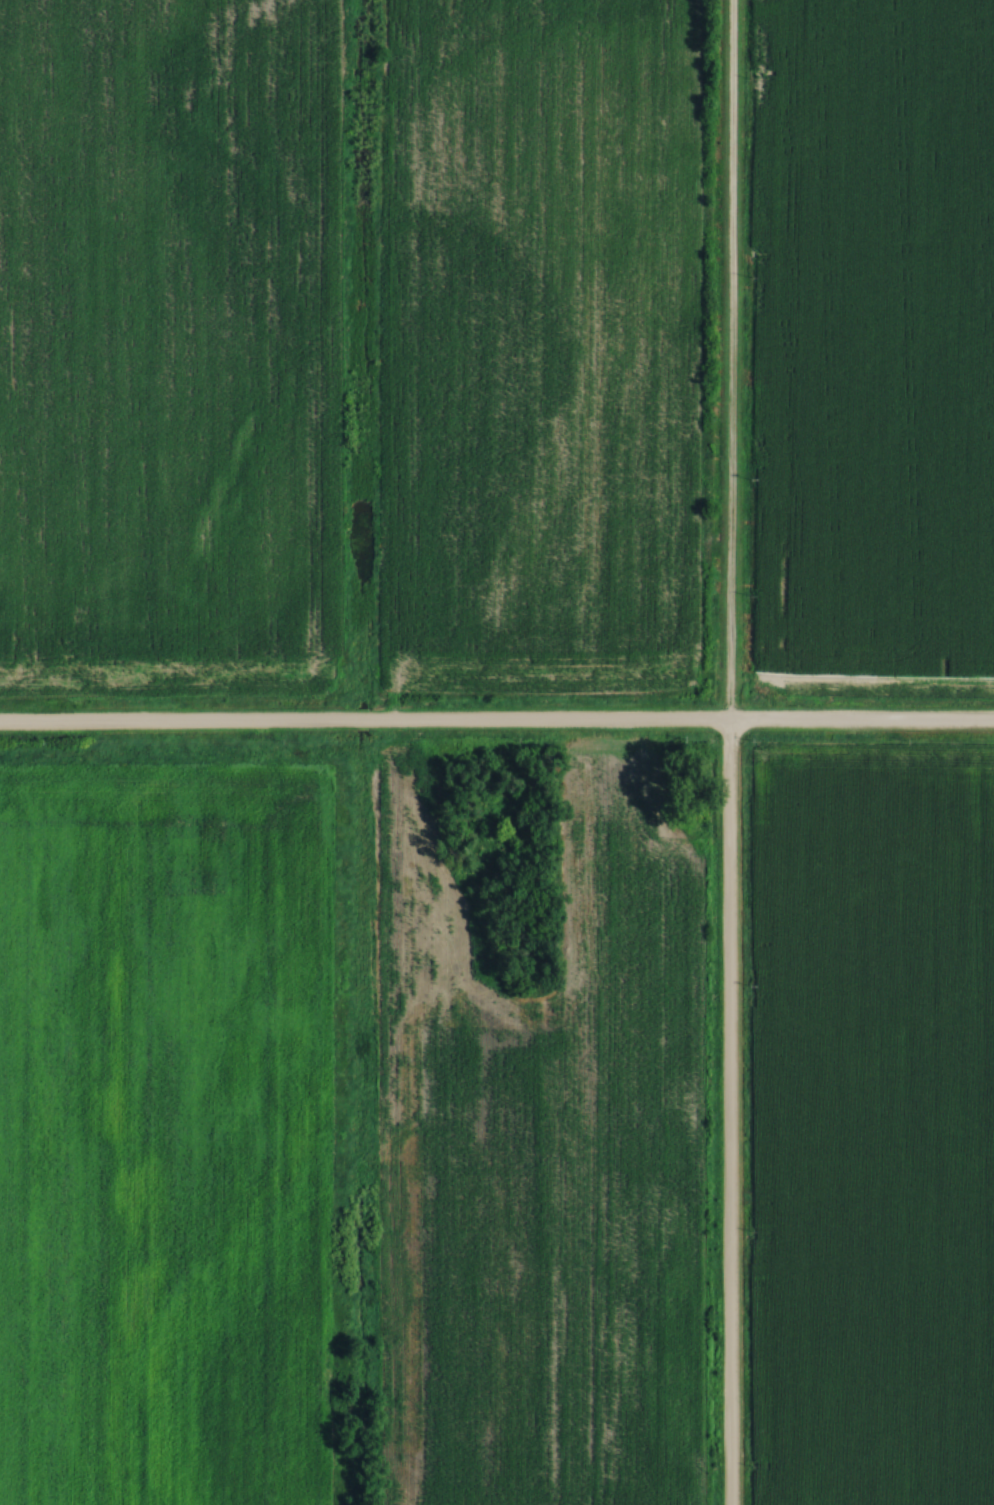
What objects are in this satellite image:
river: (360, 354)
road: (496, 719)
river: (360, 720)
road: (726, 752)
river: (360, 1118)

